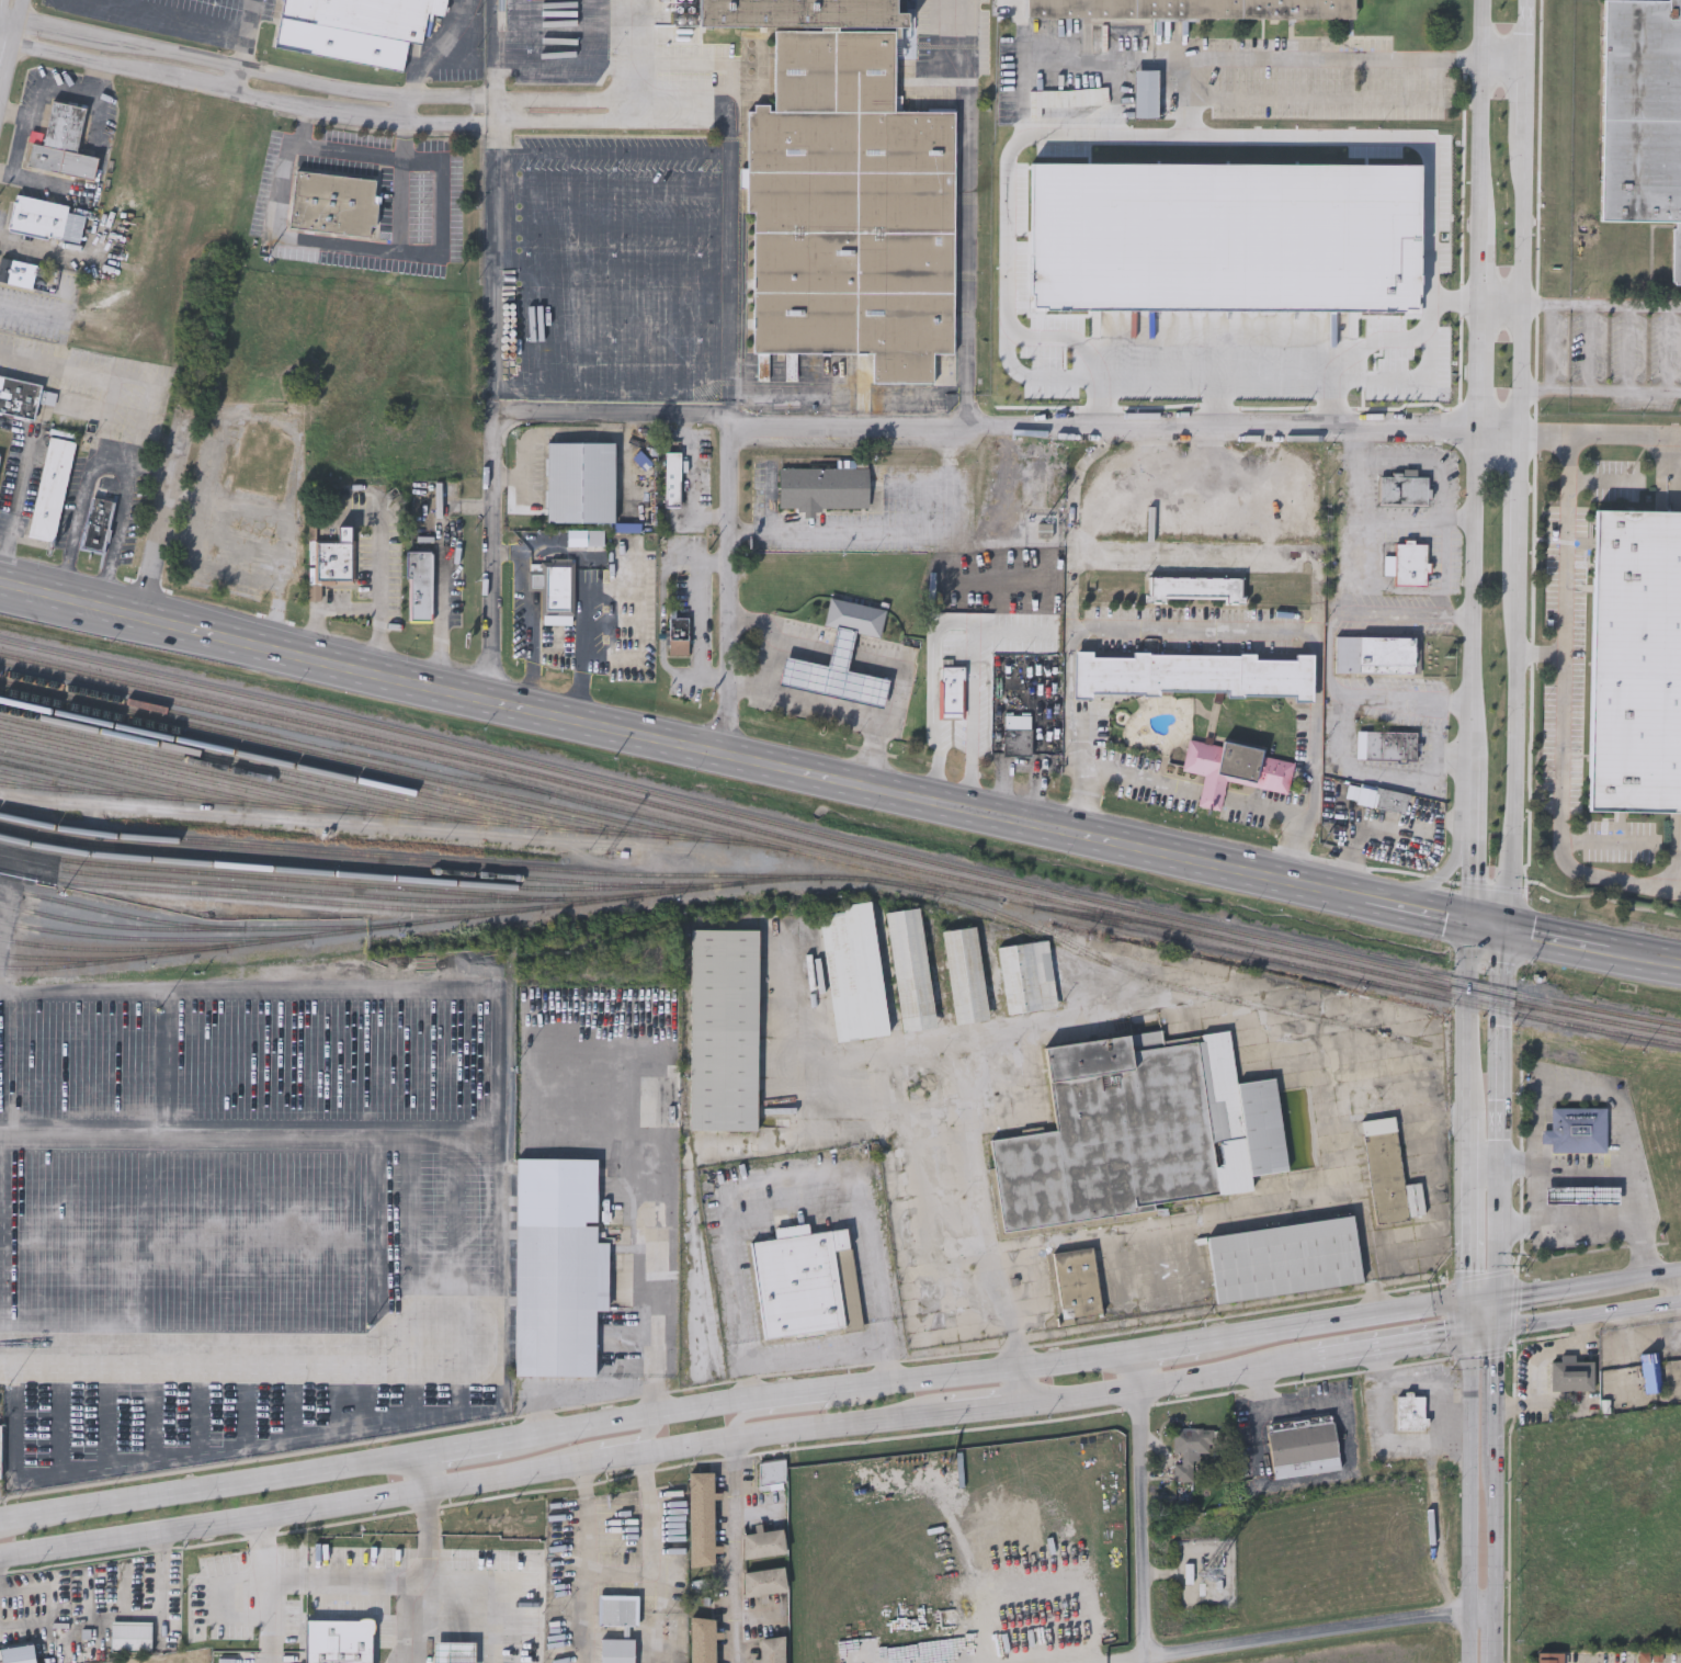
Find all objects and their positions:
building: (1191, 8)
road: (19, 18)
road: (249, 18)
road: (160, 20)
building: (355, 30)
road: (1529, 30)
road: (8, 34)
road: (242, 52)
road: (452, 56)
road: (1322, 59)
road: (8, 69)
road: (250, 69)
road: (1024, 77)
road: (237, 80)
road: (251, 97)
road: (1529, 98)
building: (1148, 103)
road: (560, 108)
road: (404, 110)
building: (1642, 115)
building: (61, 144)
road: (353, 152)
road: (728, 158)
building: (845, 193)
road: (967, 195)
building: (332, 201)
building: (38, 215)
road: (332, 245)
road: (493, 252)
building: (18, 271)
road: (1526, 283)
road: (1457, 301)
road: (1602, 305)
road: (36, 309)
road: (1502, 312)
road: (1259, 380)
road: (1602, 389)
building: (18, 396)
road: (1102, 404)
road: (1218, 404)
road: (1336, 405)
road: (728, 407)
road: (967, 410)
road: (105, 417)
road: (141, 427)
road: (1008, 428)
road: (1602, 433)
road: (116, 456)
building: (0, 460)
road: (1478, 461)
road: (1428, 464)
building: (262, 465)
road: (1360, 474)
building: (673, 476)
road: (696, 477)
building: (581, 479)
road: (291, 480)
road: (1602, 482)
building: (824, 485)
building: (50, 488)
building: (1401, 489)
road: (1522, 494)
road: (16, 516)
road: (162, 517)
road: (1400, 519)
road: (1458, 520)
building: (96, 522)
road: (78, 525)
road: (1075, 527)
road: (890, 530)
building: (584, 535)
road: (492, 550)
road: (1360, 550)
road: (1440, 552)
building: (334, 559)
building: (1409, 564)
road: (4, 584)
building: (420, 584)
road: (726, 585)
building: (1195, 586)
building: (555, 587)
road: (34, 591)
road: (100, 607)
road: (360, 607)
road: (697, 615)
building: (855, 615)
road: (532, 616)
road: (964, 619)
road: (749, 624)
road: (1218, 629)
building: (678, 632)
road: (1015, 637)
road: (582, 644)
road: (833, 648)
road: (272, 649)
road: (1328, 652)
building: (1375, 653)
road: (1541, 653)
building: (1636, 660)
building: (834, 674)
building: (1199, 676)
road: (448, 692)
building: (953, 693)
road: (1563, 709)
road: (838, 711)
railway: (228, 724)
building: (1019, 724)
railway: (297, 729)
road: (1517, 742)
building: (1390, 744)
railway: (320, 761)
railway: (349, 761)
railway: (289, 765)
railway: (230, 768)
building: (1234, 768)
railway: (264, 769)
railway: (198, 771)
railway: (140, 774)
railway: (171, 774)
railway: (77, 778)
railway: (112, 778)
road: (1128, 778)
railway: (48, 780)
railway: (19, 782)
railway: (496, 782)
building: (1392, 797)
road: (929, 801)
railway: (485, 822)
railway: (680, 825)
railway: (839, 838)
road: (1605, 841)
railway: (839, 851)
railway: (394, 858)
railway: (360, 864)
railway: (328, 873)
railway: (306, 881)
road: (1438, 881)
railway: (274, 891)
railway: (249, 896)
railway: (1006, 900)
road: (1419, 909)
railway: (481, 913)
railway: (1098, 916)
traffic signals: (1472, 923)
railway: (111, 925)
road: (1488, 925)
traffic signals: (1504, 928)
railway: (96, 936)
road: (1547, 937)
railway: (242, 938)
railway: (100, 949)
railway: (186, 950)
road: (1472, 953)
road: (1635, 954)
railway: (56, 958)
road: (1502, 959)
building: (911, 968)
building: (854, 971)
building: (966, 974)
building: (1029, 975)
railway: (1147, 977)
railway: (1362, 980)
building: (725, 1028)
building: (660, 1100)
building: (1577, 1129)
road: (250, 1130)
building: (1136, 1130)
road: (1473, 1144)
road: (1521, 1166)
road: (500, 1168)
road: (1595, 1168)
building: (1387, 1169)
building: (1581, 1193)
road: (796, 1210)
road: (1247, 1212)
road: (1588, 1222)
road: (661, 1236)
road: (1371, 1248)
building: (1285, 1258)
building: (558, 1266)
road: (1638, 1277)
building: (807, 1281)
building: (1077, 1282)
road: (1546, 1292)
traffic signals: (1497, 1300)
road: (1486, 1301)
traffic signals: (1475, 1303)
road: (1577, 1316)
road: (1339, 1322)
road: (1496, 1326)
traffic signals: (1496, 1330)
traffic signals: (1474, 1333)
road: (1654, 1334)
road: (1392, 1345)
road: (1169, 1346)
road: (816, 1350)
road: (1527, 1354)
building: (1650, 1370)
building: (1571, 1373)
building: (1534, 1374)
road: (1167, 1379)
road: (1429, 1381)
road: (1021, 1384)
road: (1259, 1393)
road: (818, 1398)
road: (1336, 1403)
road: (987, 1406)
road: (784, 1409)
building: (1409, 1413)
road: (1387, 1433)
road: (594, 1446)
building: (1302, 1447)
road: (220, 1450)
road: (461, 1450)
building: (1188, 1450)
road: (422, 1472)
building: (771, 1473)
road: (475, 1480)
road: (1470, 1482)
road: (209, 1486)
road: (1273, 1487)
road: (1142, 1506)
building: (702, 1519)
road: (430, 1535)
road: (261, 1542)
building: (763, 1542)
road: (734, 1552)
road: (660, 1558)
road: (586, 1563)
road: (303, 1579)
building: (511, 1581)
building: (765, 1582)
road: (212, 1597)
road: (484, 1609)
building: (617, 1610)
building: (463, 1611)
road: (414, 1621)
road: (15, 1624)
road: (1296, 1633)
building: (128, 1636)
building: (703, 1640)
building: (617, 1650)
building: (772, 1650)
building: (15, 1654)
building: (1545, 1659)

